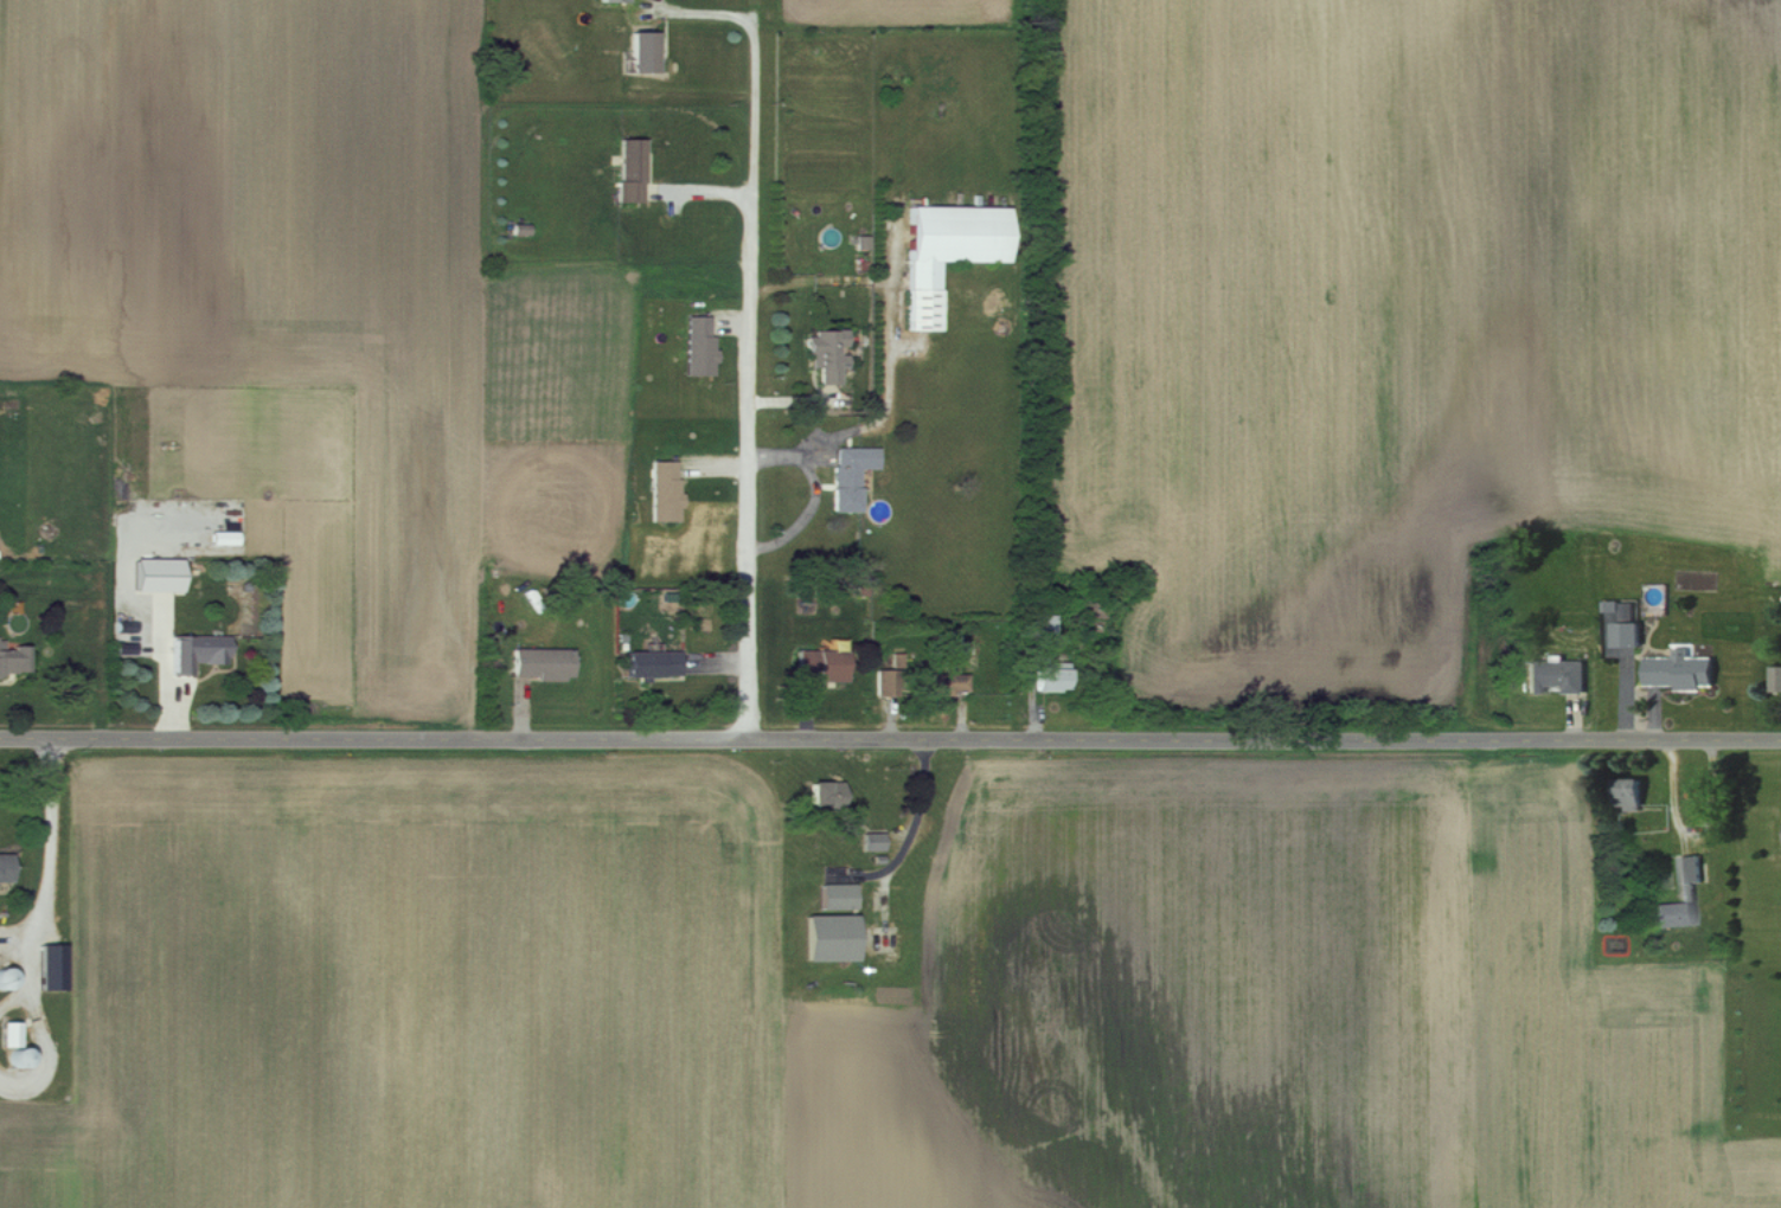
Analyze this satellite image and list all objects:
building: (643, 51)
building: (629, 169)
building: (947, 250)
building: (699, 346)
building: (826, 354)
road: (755, 381)
road: (893, 396)
building: (850, 474)
building: (665, 490)
road: (814, 514)
building: (225, 536)
building: (158, 574)
building: (1043, 625)
building: (1626, 627)
building: (197, 651)
building: (13, 658)
building: (543, 663)
building: (652, 663)
building: (821, 663)
building: (1680, 669)
building: (1051, 674)
building: (1556, 675)
building: (1776, 677)
building: (884, 681)
building: (940, 682)
road: (890, 740)
building: (825, 792)
building: (1628, 793)
building: (872, 841)
road: (51, 854)
building: (5, 867)
building: (1687, 892)
building: (838, 895)
building: (831, 937)
building: (52, 965)
building: (9, 1033)

